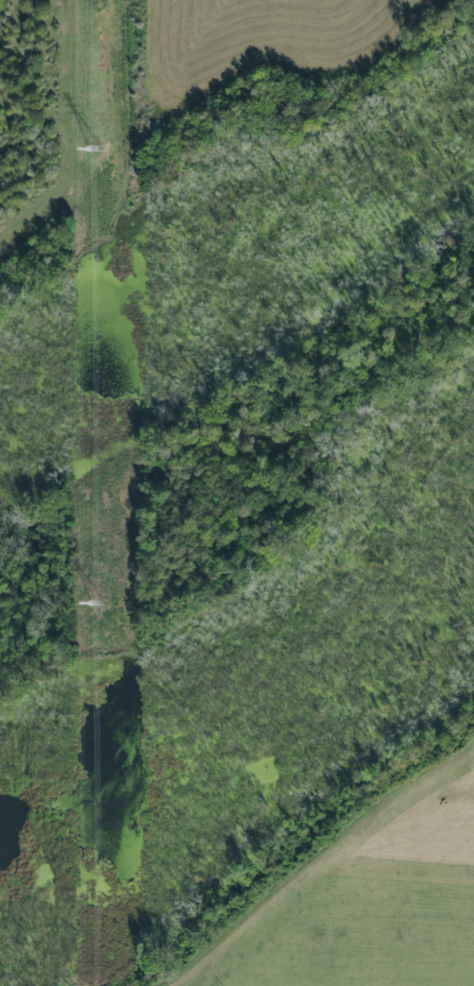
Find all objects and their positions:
power tower: (99, 153)
power tower: (97, 607)

